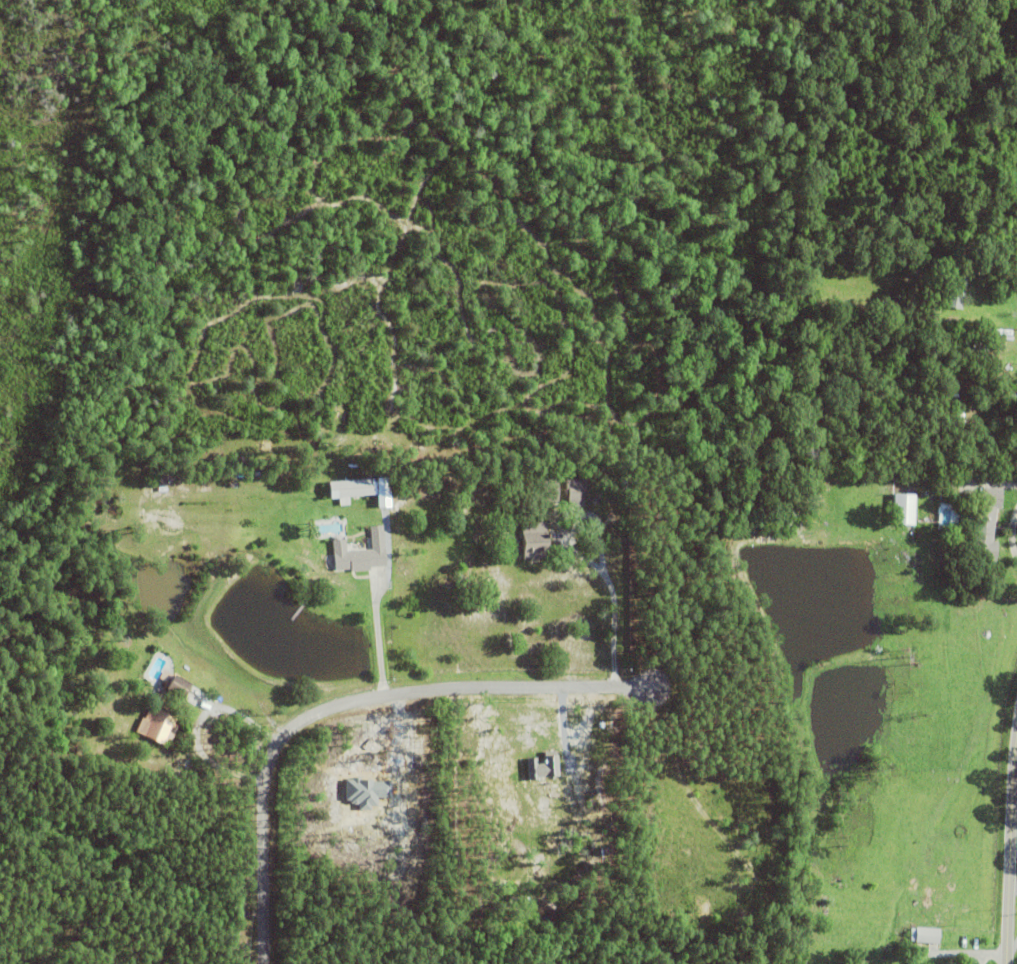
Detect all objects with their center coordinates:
building: (954, 258)
building: (912, 270)
building: (956, 291)
building: (624, 484)
building: (350, 489)
building: (576, 491)
building: (551, 492)
building: (903, 509)
building: (985, 522)
building: (535, 540)
building: (359, 555)
road: (612, 620)
road: (380, 638)
building: (177, 685)
road: (360, 701)
building: (159, 725)
building: (545, 766)
road: (1011, 874)
road: (1014, 892)
building: (925, 936)

